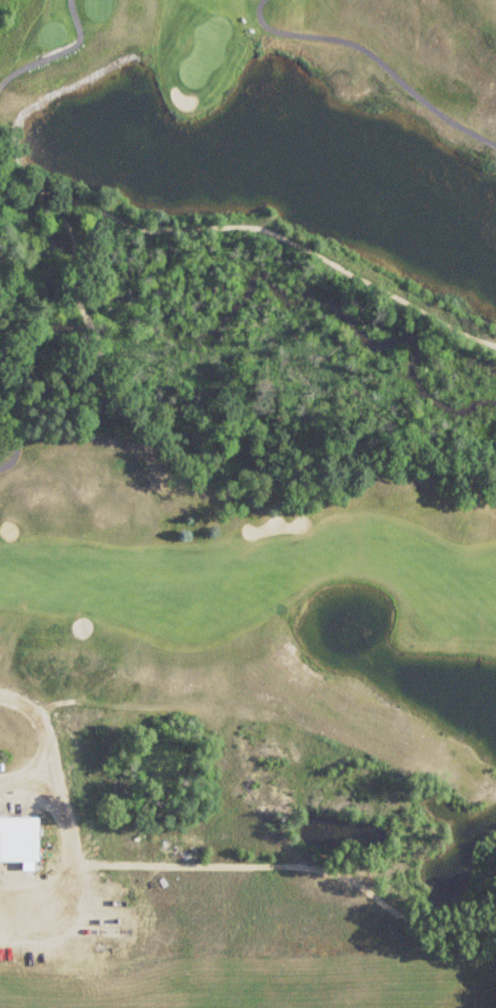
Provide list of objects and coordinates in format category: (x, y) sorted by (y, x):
road: (67, 805)
building: (20, 847)
road: (239, 865)

